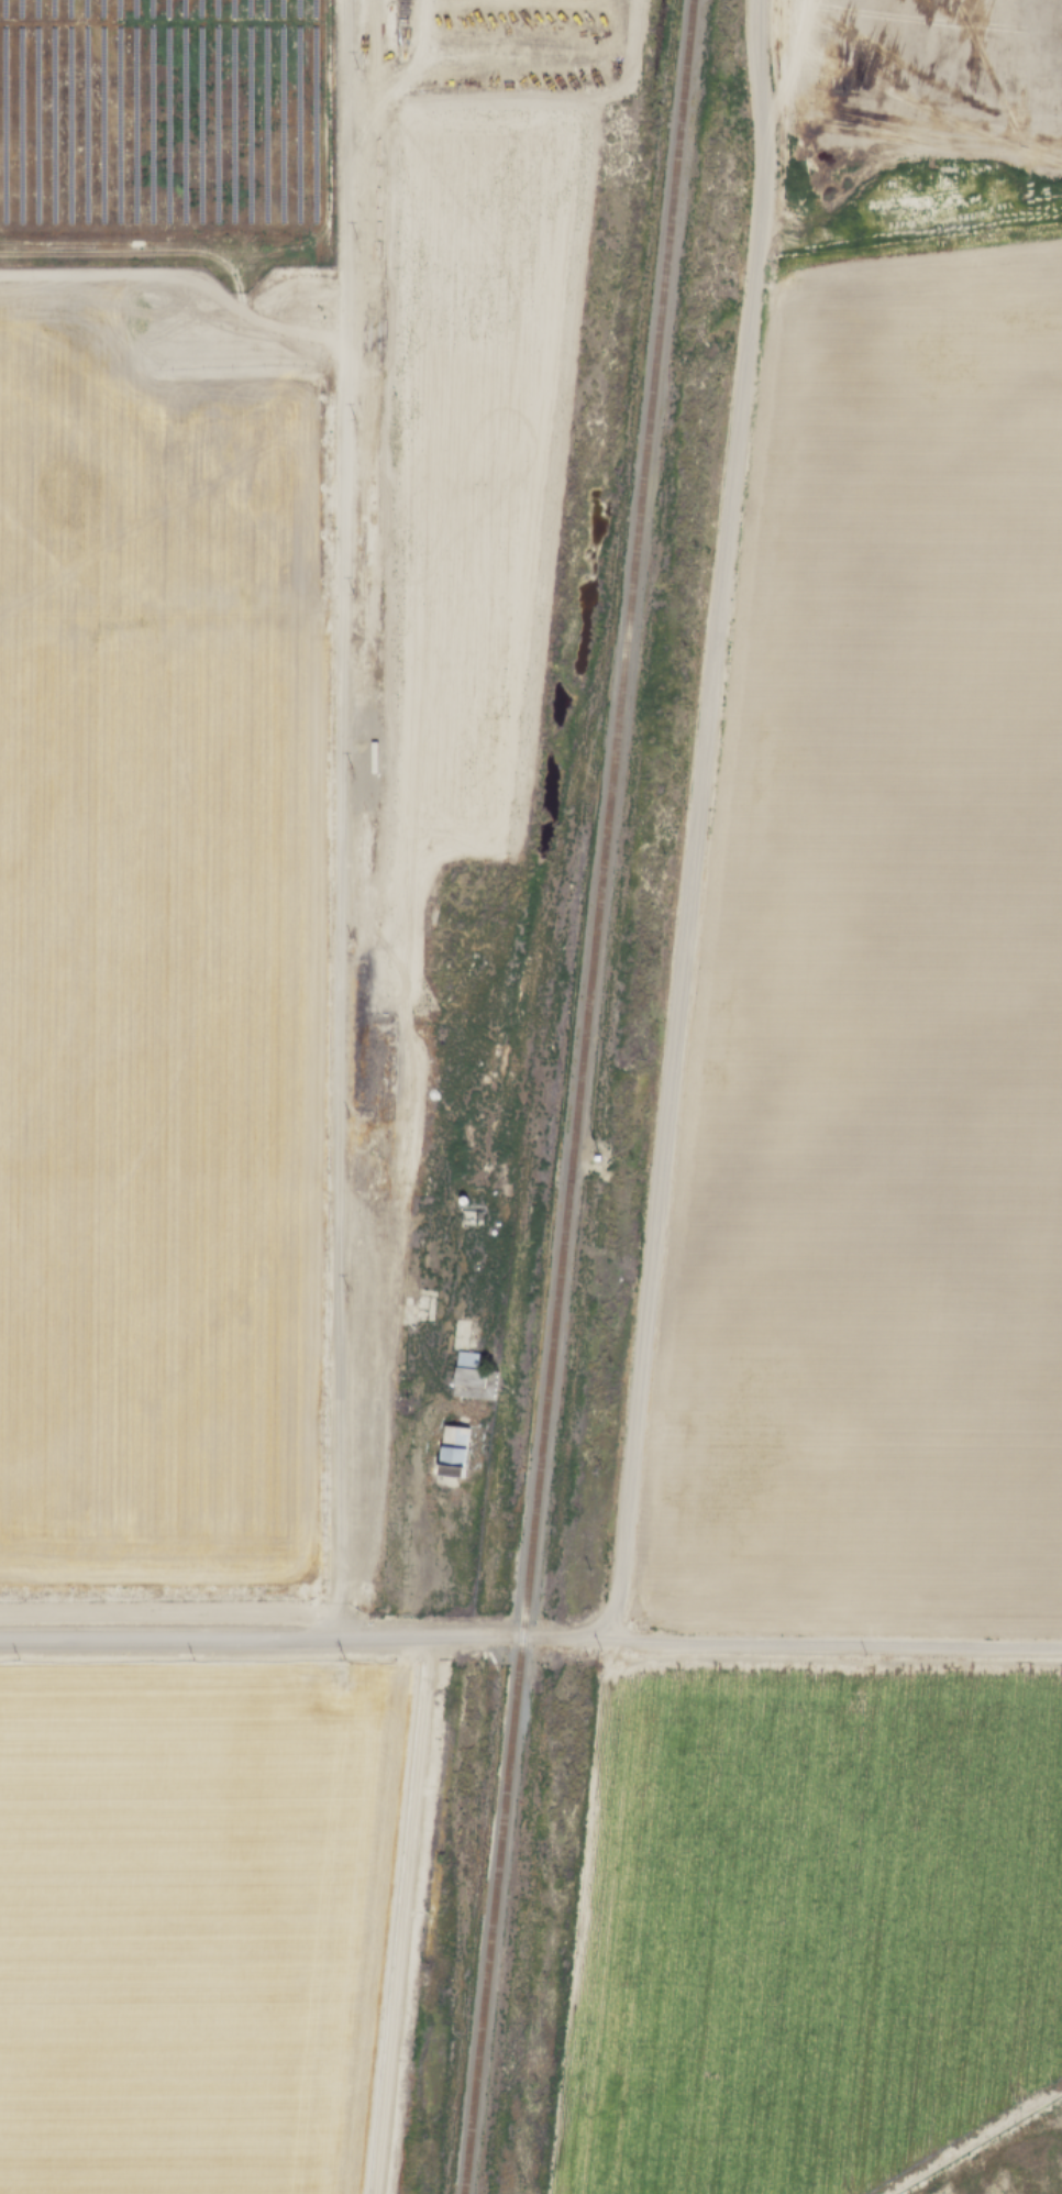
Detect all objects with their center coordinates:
road: (349, 65)
road: (399, 75)
solar farm: (167, 135)
road: (696, 823)
road: (336, 891)
railway: (577, 1096)
building: (435, 1189)
storage tank: (435, 1189)
building: (471, 1220)
building: (466, 1356)
road: (369, 1369)
building: (475, 1381)
building: (399, 1401)
building: (452, 1448)
road: (294, 1640)
road: (825, 1640)
road: (405, 1914)

